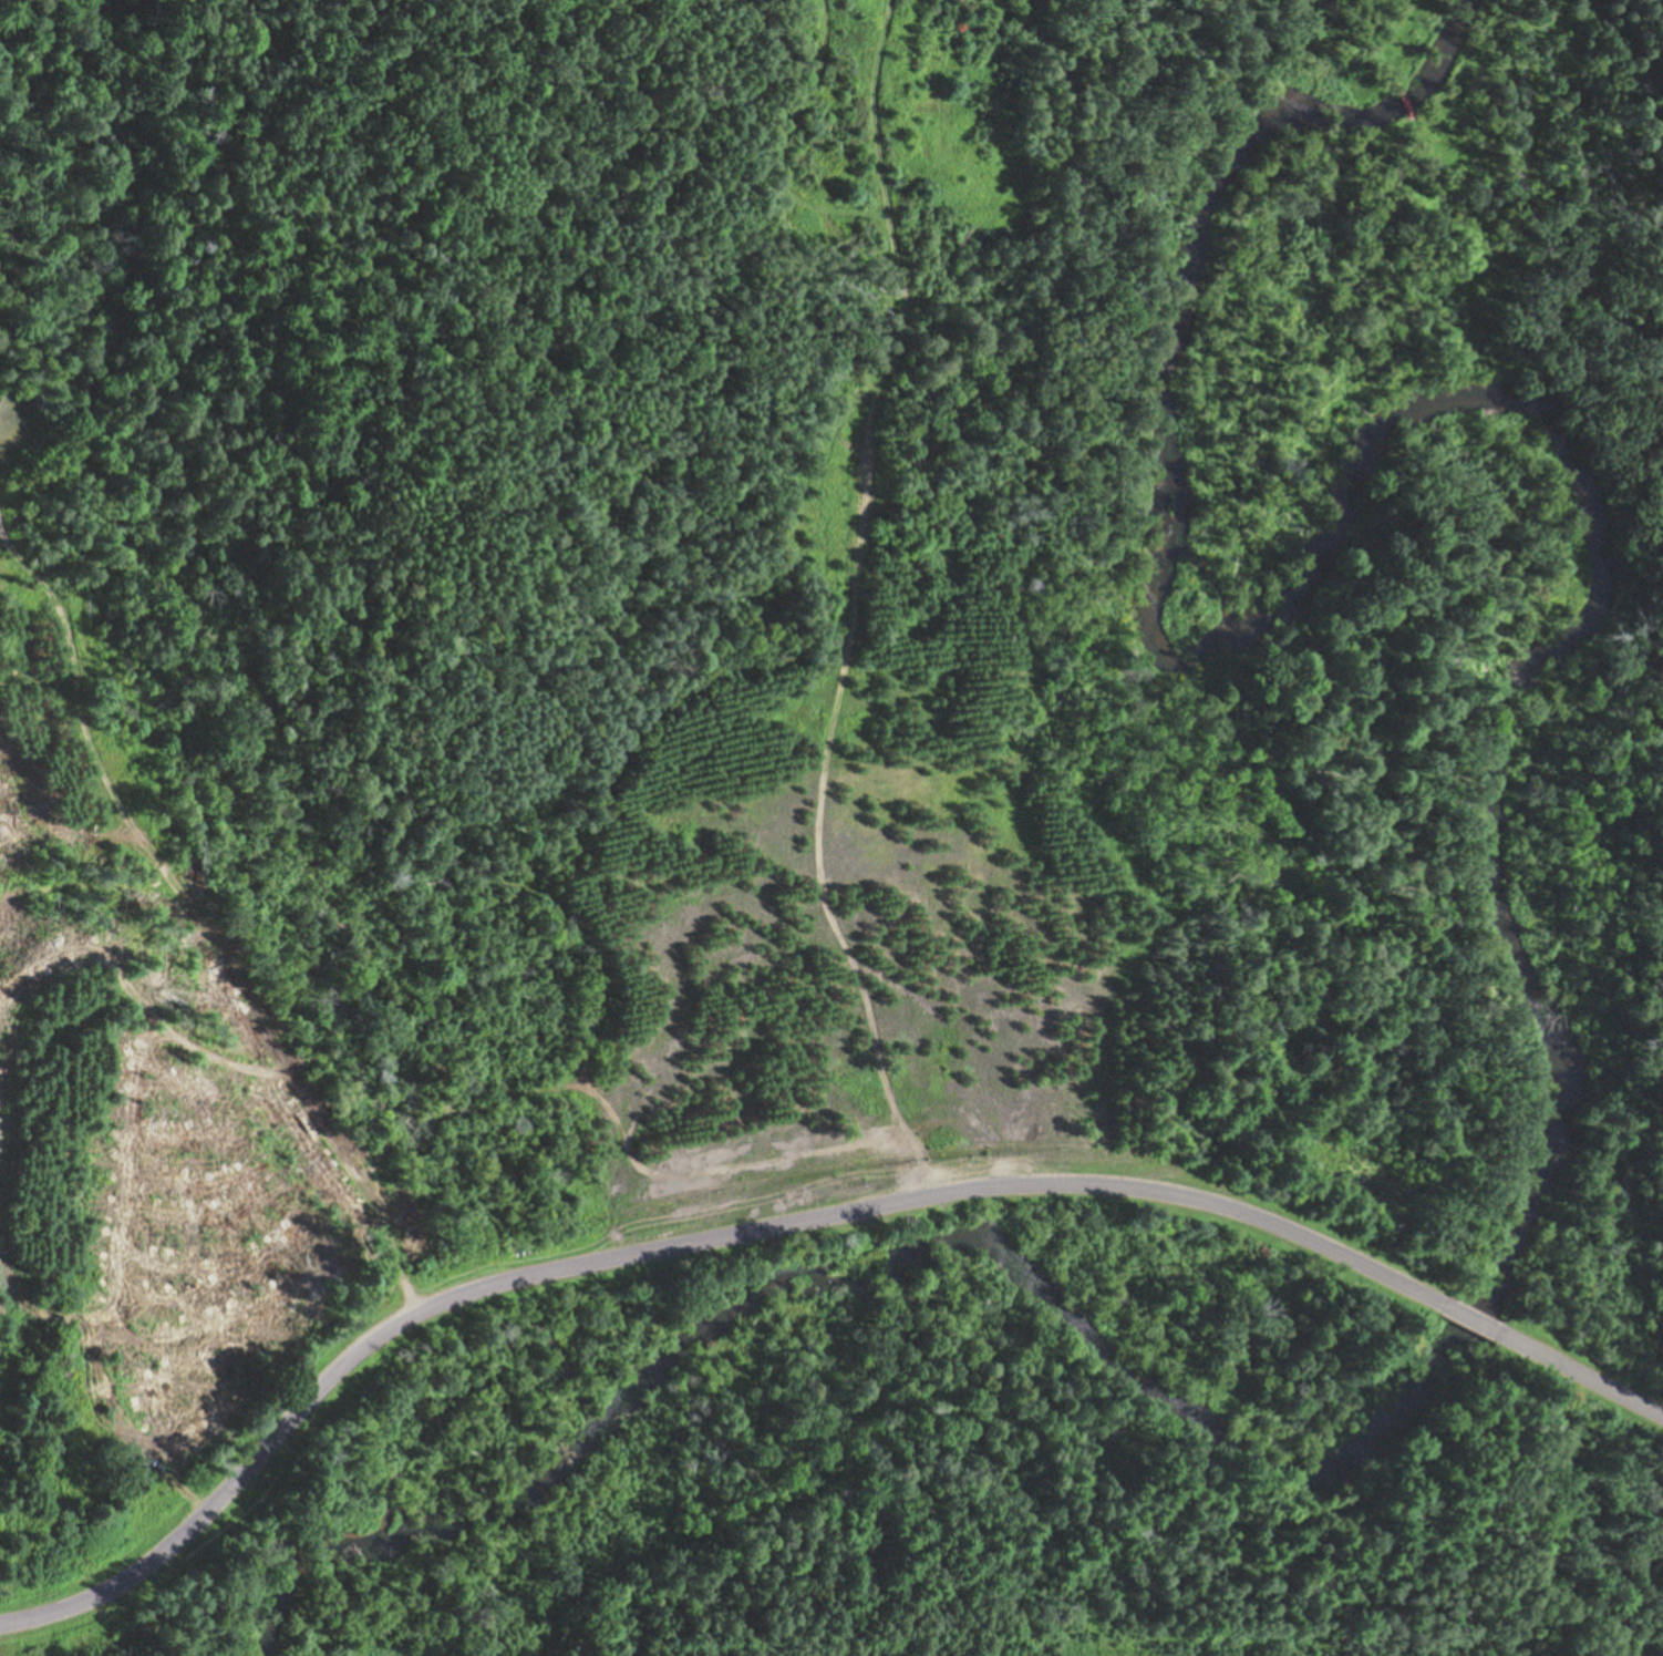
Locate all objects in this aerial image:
road: (800, 1228)

